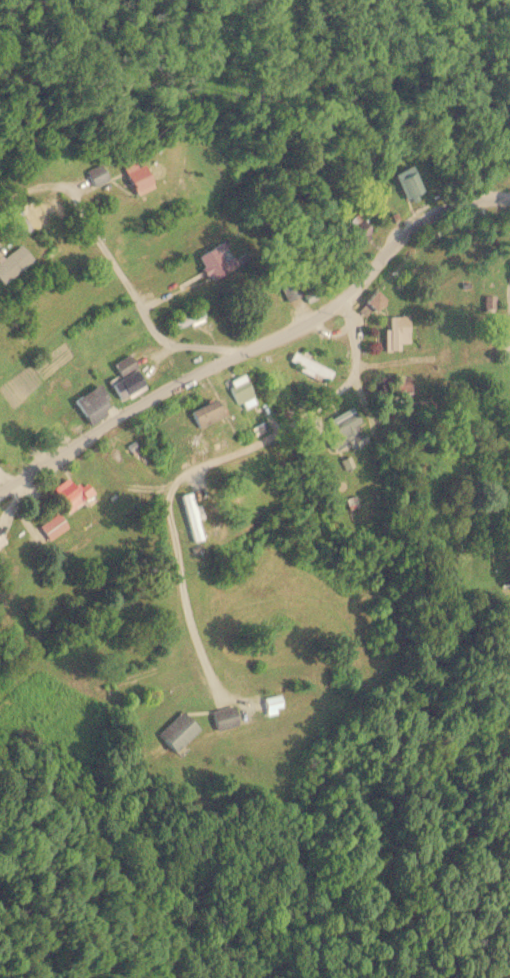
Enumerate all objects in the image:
building: (96, 175)
building: (138, 177)
building: (407, 182)
building: (28, 216)
building: (353, 229)
building: (215, 260)
building: (290, 290)
road: (128, 302)
building: (372, 302)
building: (186, 316)
building: (103, 323)
building: (397, 332)
road: (262, 343)
building: (309, 367)
building: (125, 376)
building: (394, 387)
building: (239, 391)
building: (94, 405)
building: (206, 413)
building: (343, 427)
road: (198, 465)
building: (192, 517)
building: (226, 718)
building: (179, 732)

